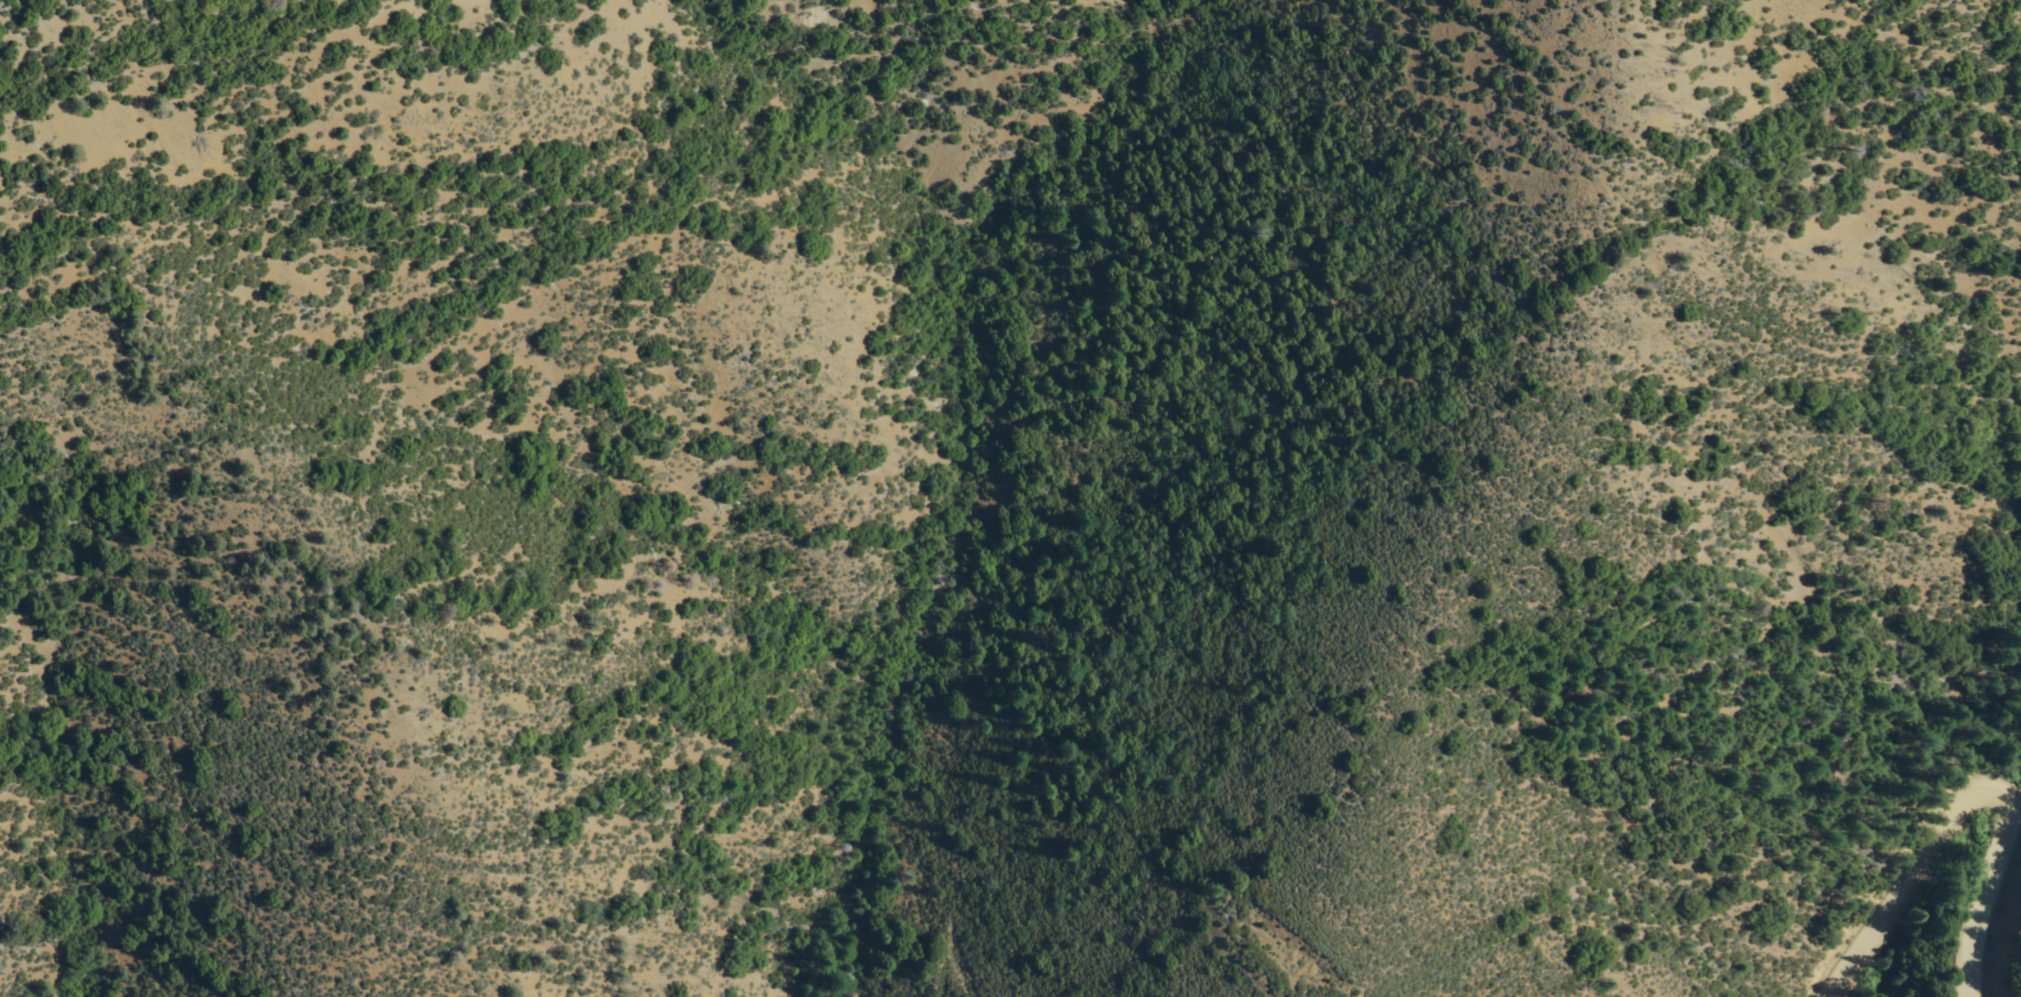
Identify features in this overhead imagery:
road: (1967, 805)

